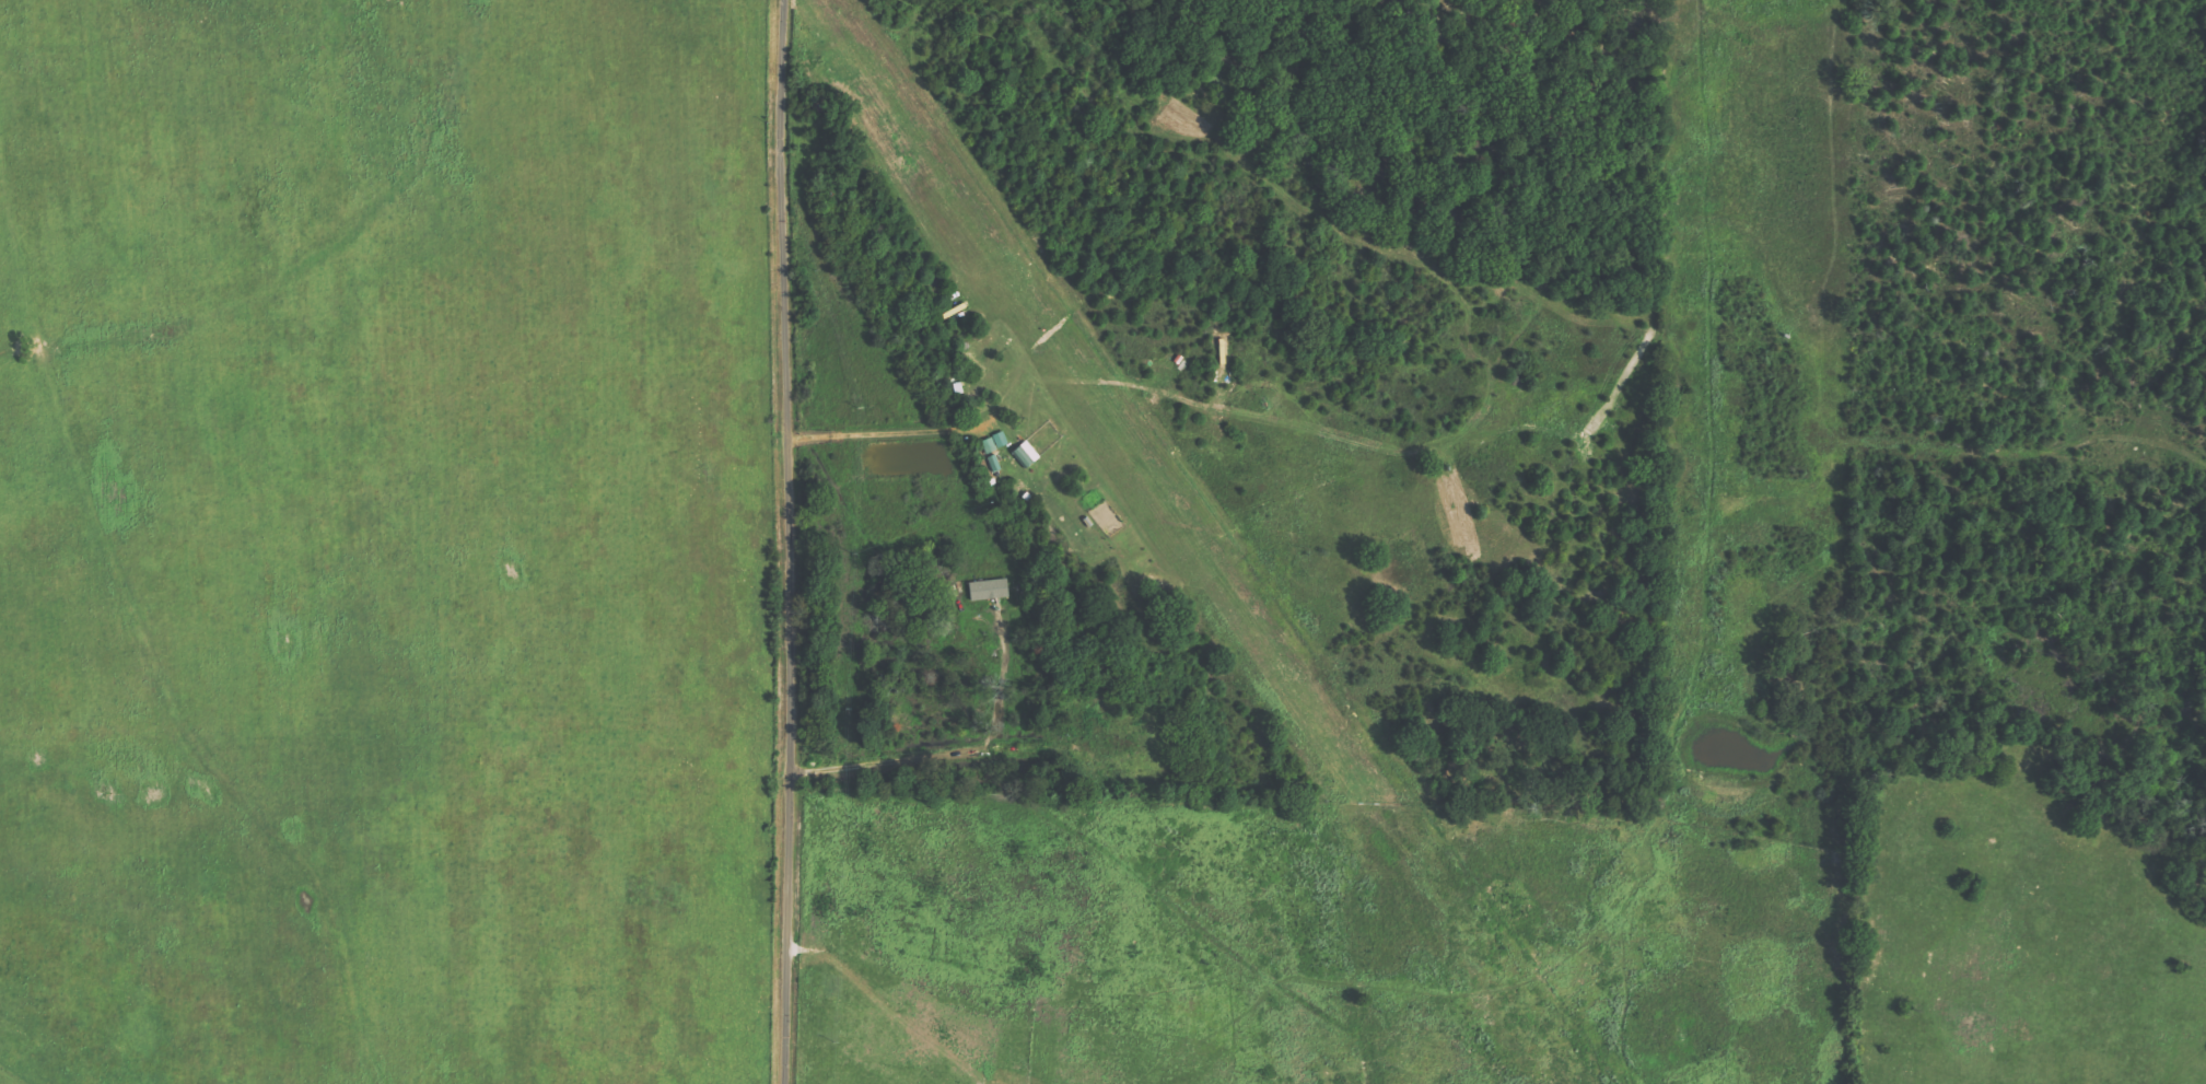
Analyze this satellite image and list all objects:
building: (995, 443)
building: (1027, 455)
road: (787, 541)
building: (990, 590)

